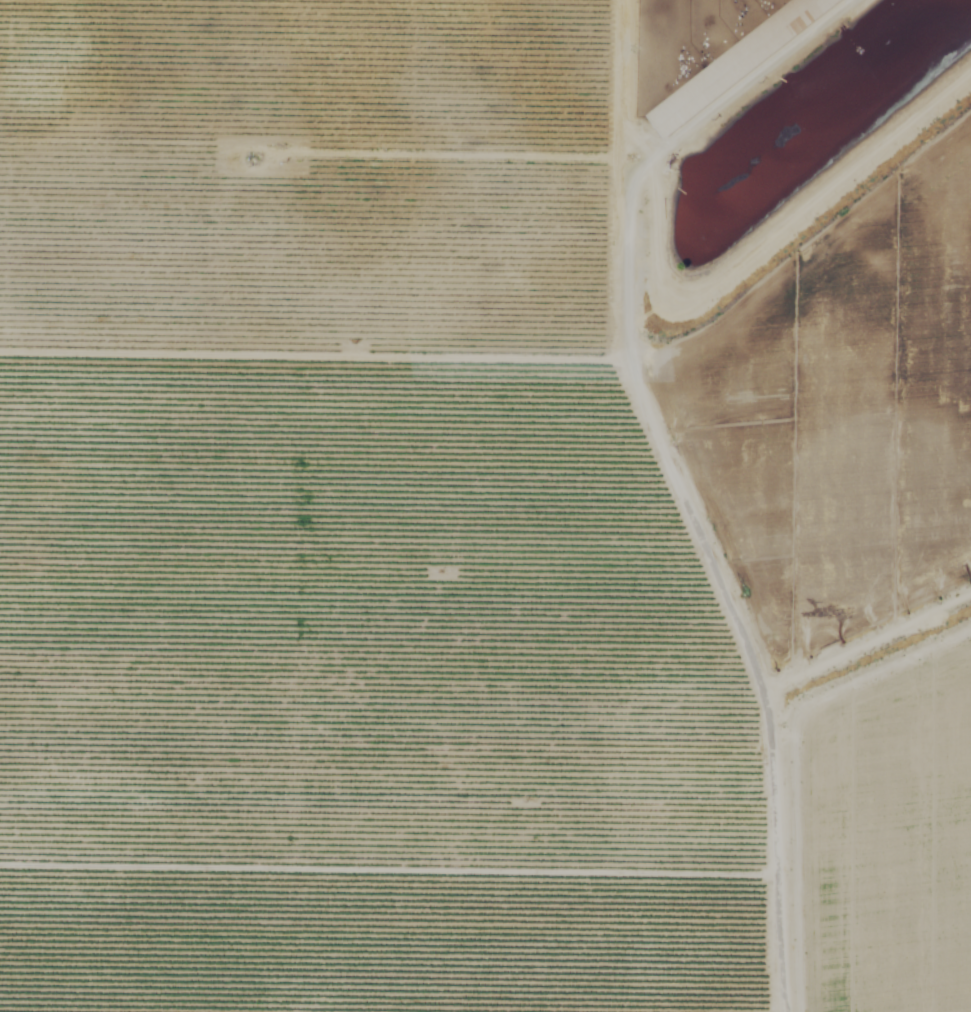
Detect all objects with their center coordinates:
building: (742, 63)
crop: (460, 538)

